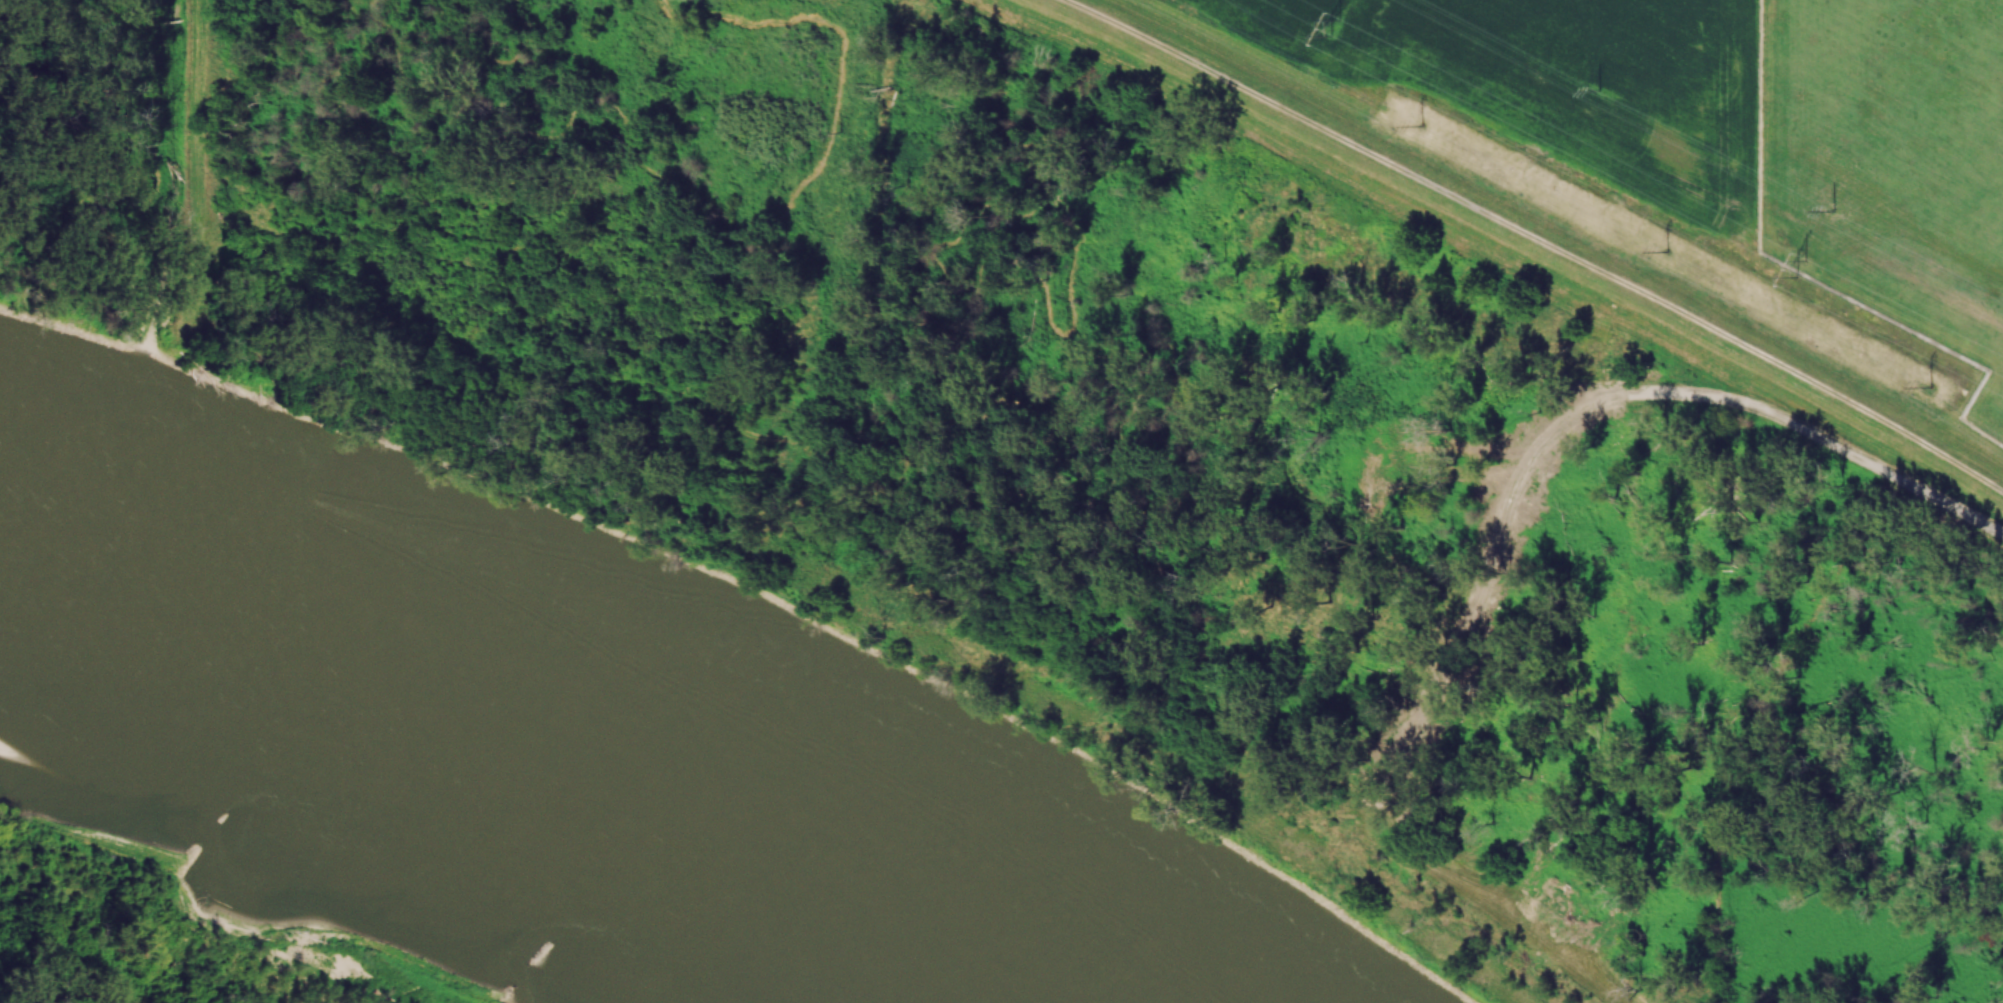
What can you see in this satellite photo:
road: (448, 17)
power tower: (1338, 26)
power tower: (1601, 87)
road: (336, 97)
power tower: (1420, 126)
road: (675, 176)
power tower: (1833, 212)
power tower: (1668, 253)
park: (500, 255)
power tower: (1803, 267)
power tower: (1930, 387)
road: (1542, 446)
road: (1988, 523)
road: (1621, 578)
river: (515, 771)
road: (1347, 810)
road: (1485, 905)

